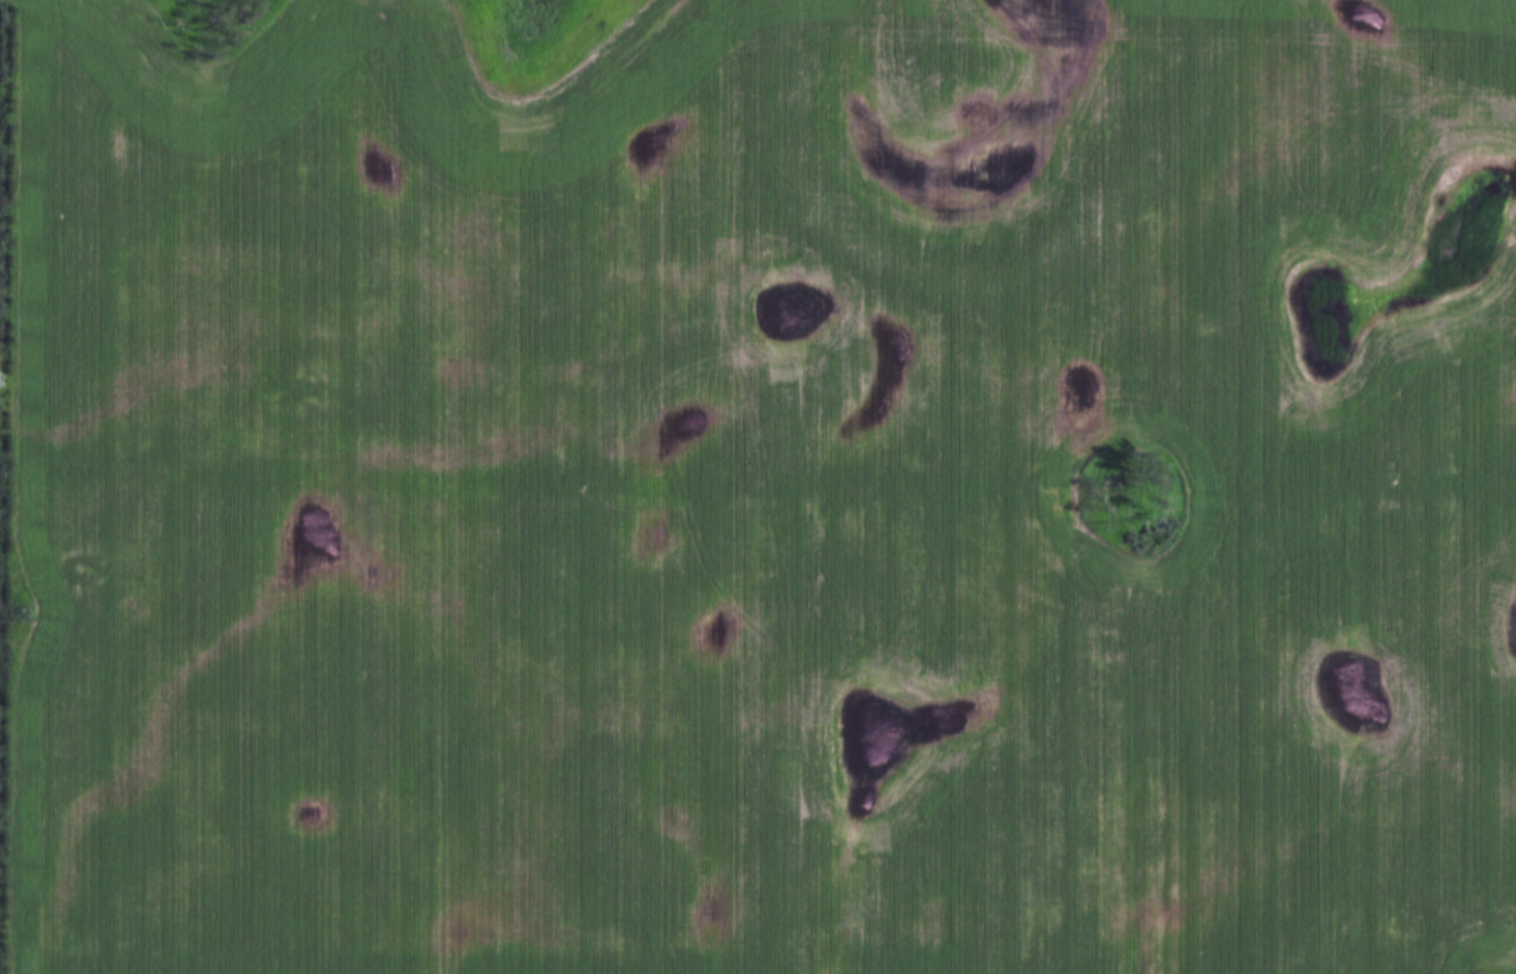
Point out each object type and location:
park: (1495, 973)

